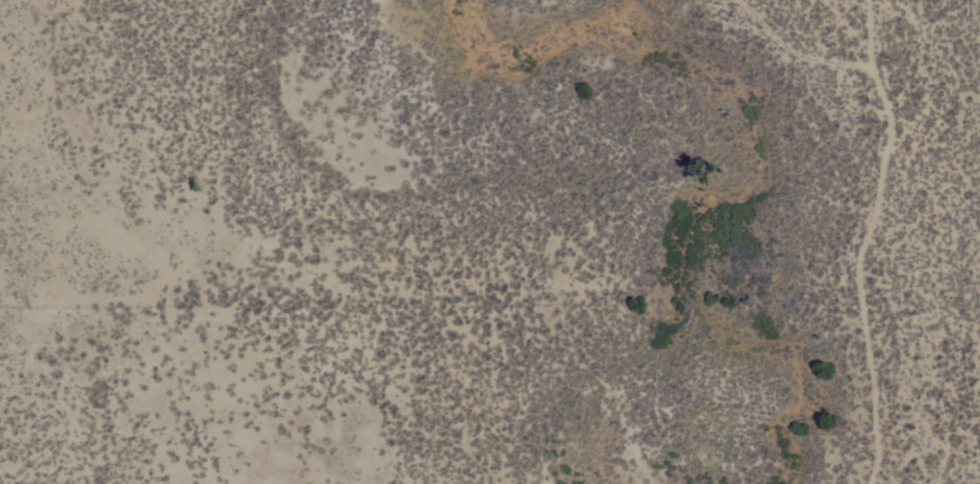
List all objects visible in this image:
road: (803, 50)
road: (873, 239)

